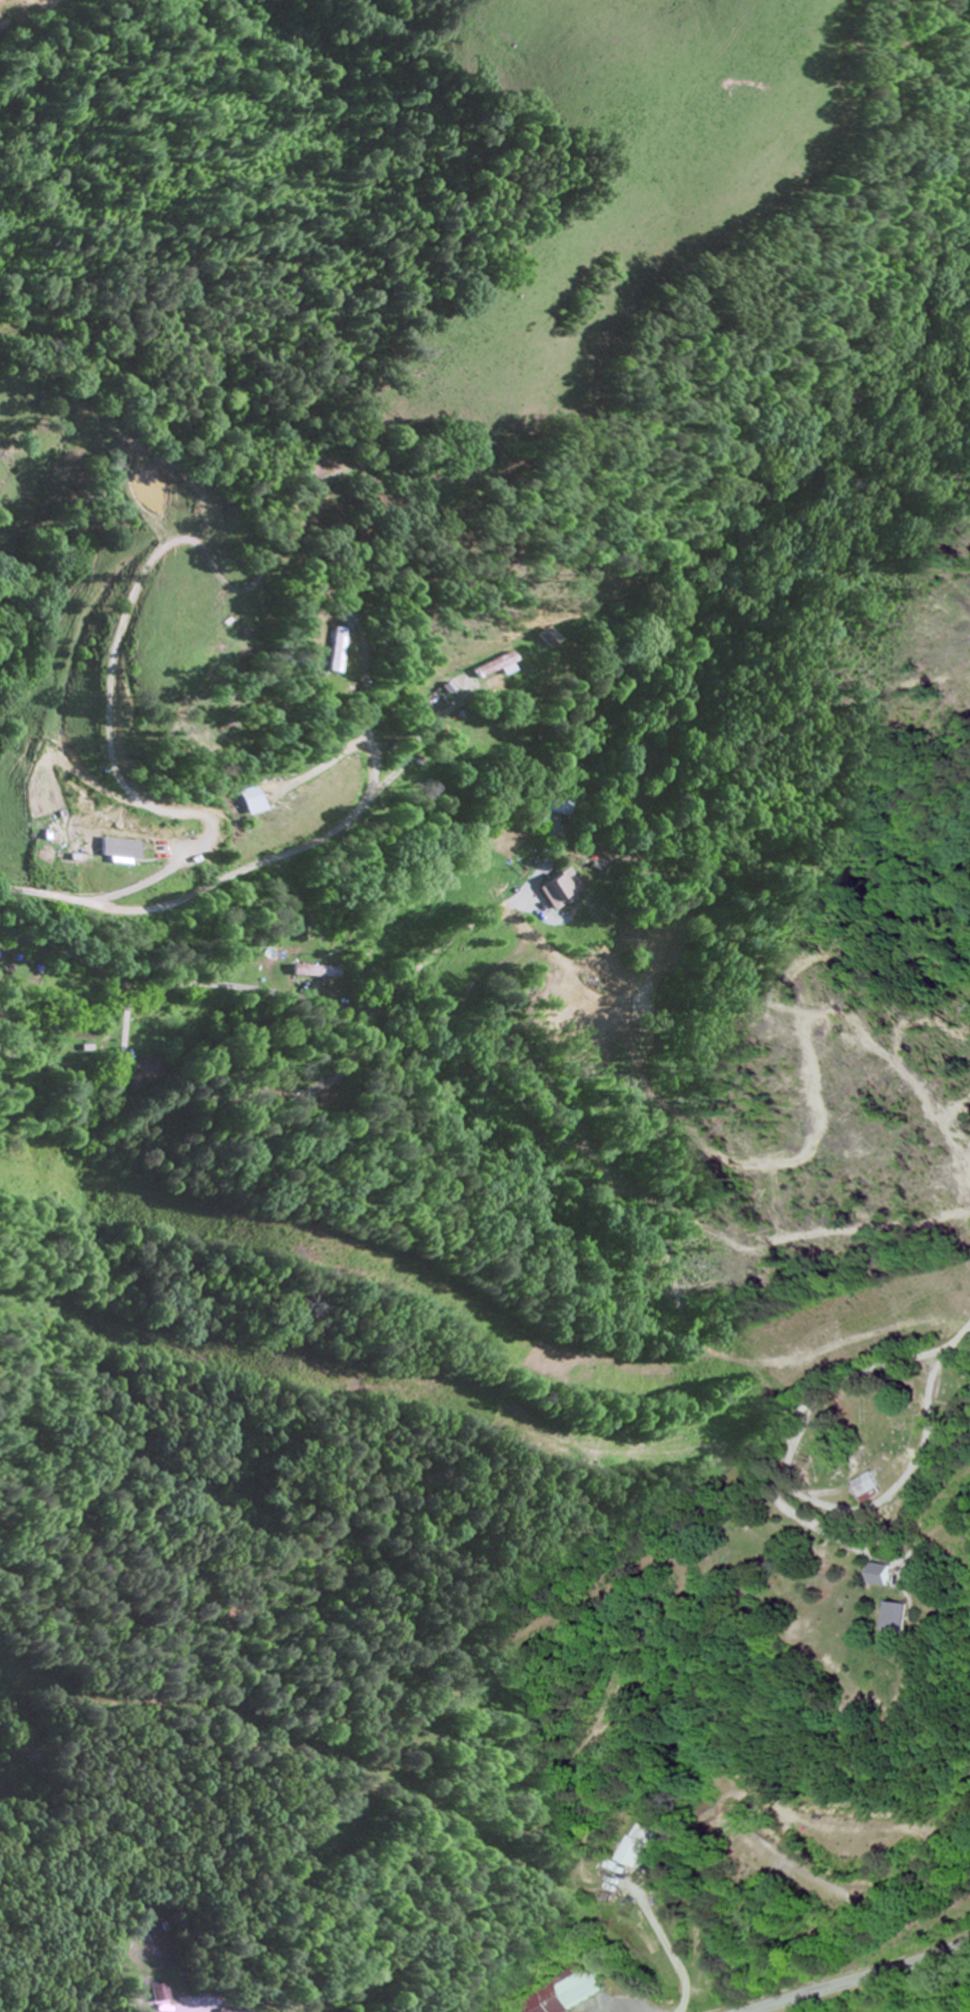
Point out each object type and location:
building: (335, 652)
building: (494, 668)
road: (368, 693)
building: (554, 807)
building: (49, 808)
road: (291, 850)
building: (125, 854)
building: (558, 891)
building: (310, 973)
road: (262, 991)
road: (968, 1334)
park: (868, 1428)
road: (796, 1480)
building: (867, 1490)
building: (876, 1578)
building: (894, 1619)
building: (631, 1849)
building: (750, 1850)
road: (331, 1880)
road: (231, 1897)
road: (188, 1915)
road: (862, 1978)
building: (164, 1995)
building: (569, 1995)

